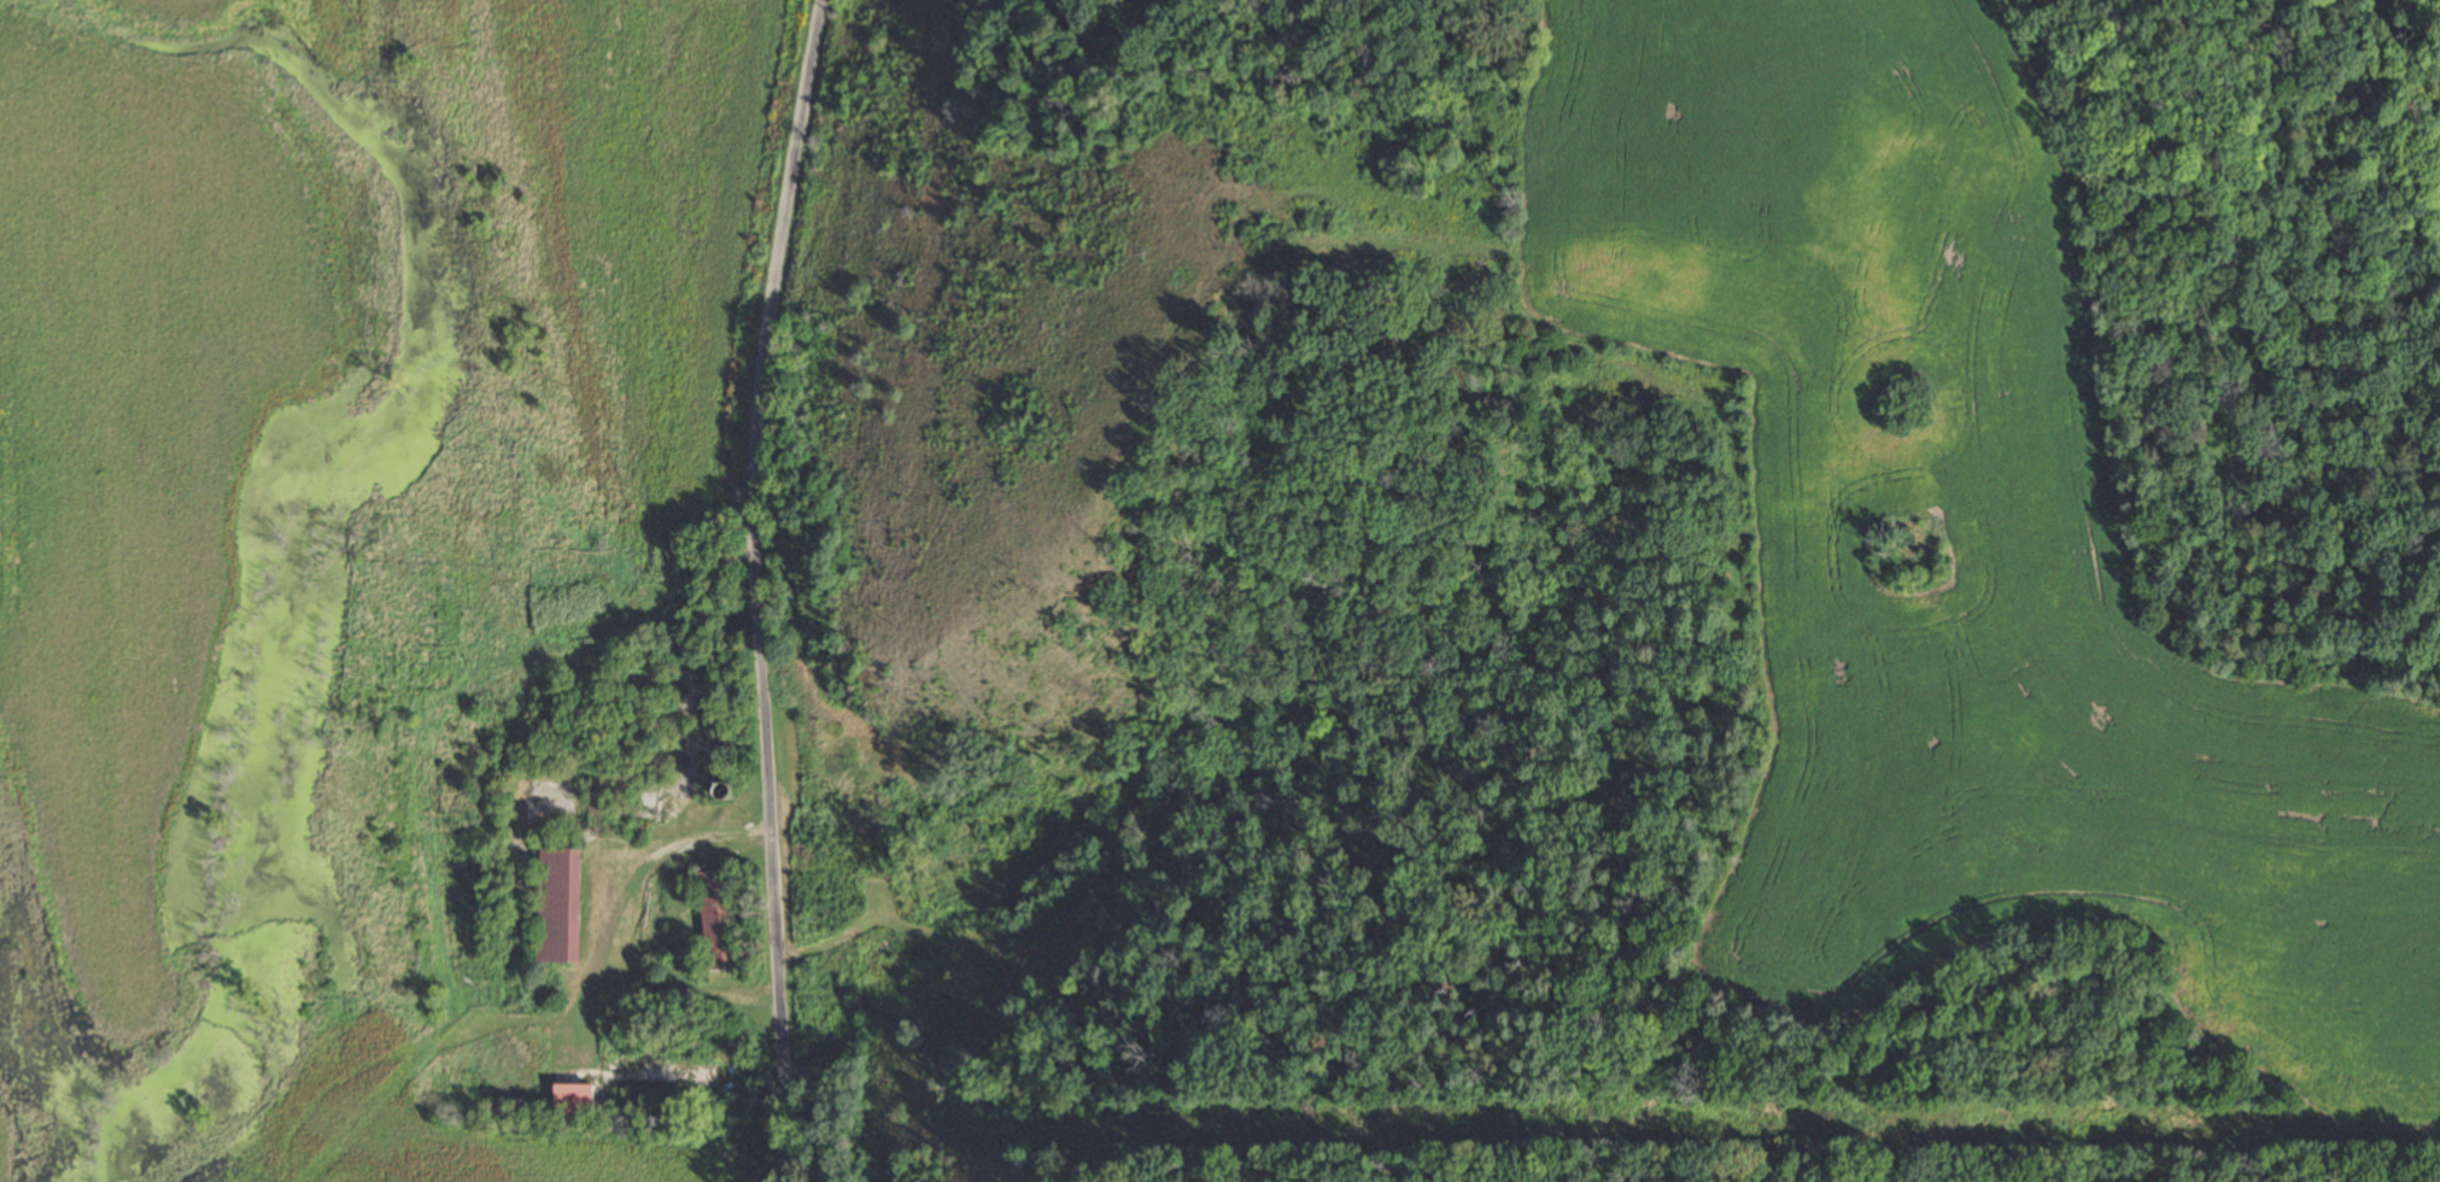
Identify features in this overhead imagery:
road: (761, 589)
building: (556, 906)
building: (720, 920)
building: (569, 1098)

